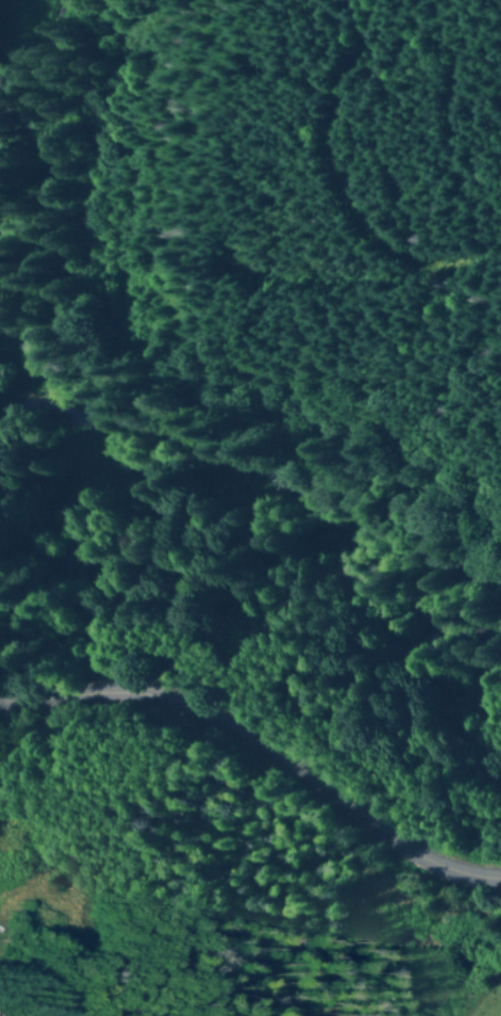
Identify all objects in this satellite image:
road: (256, 757)

